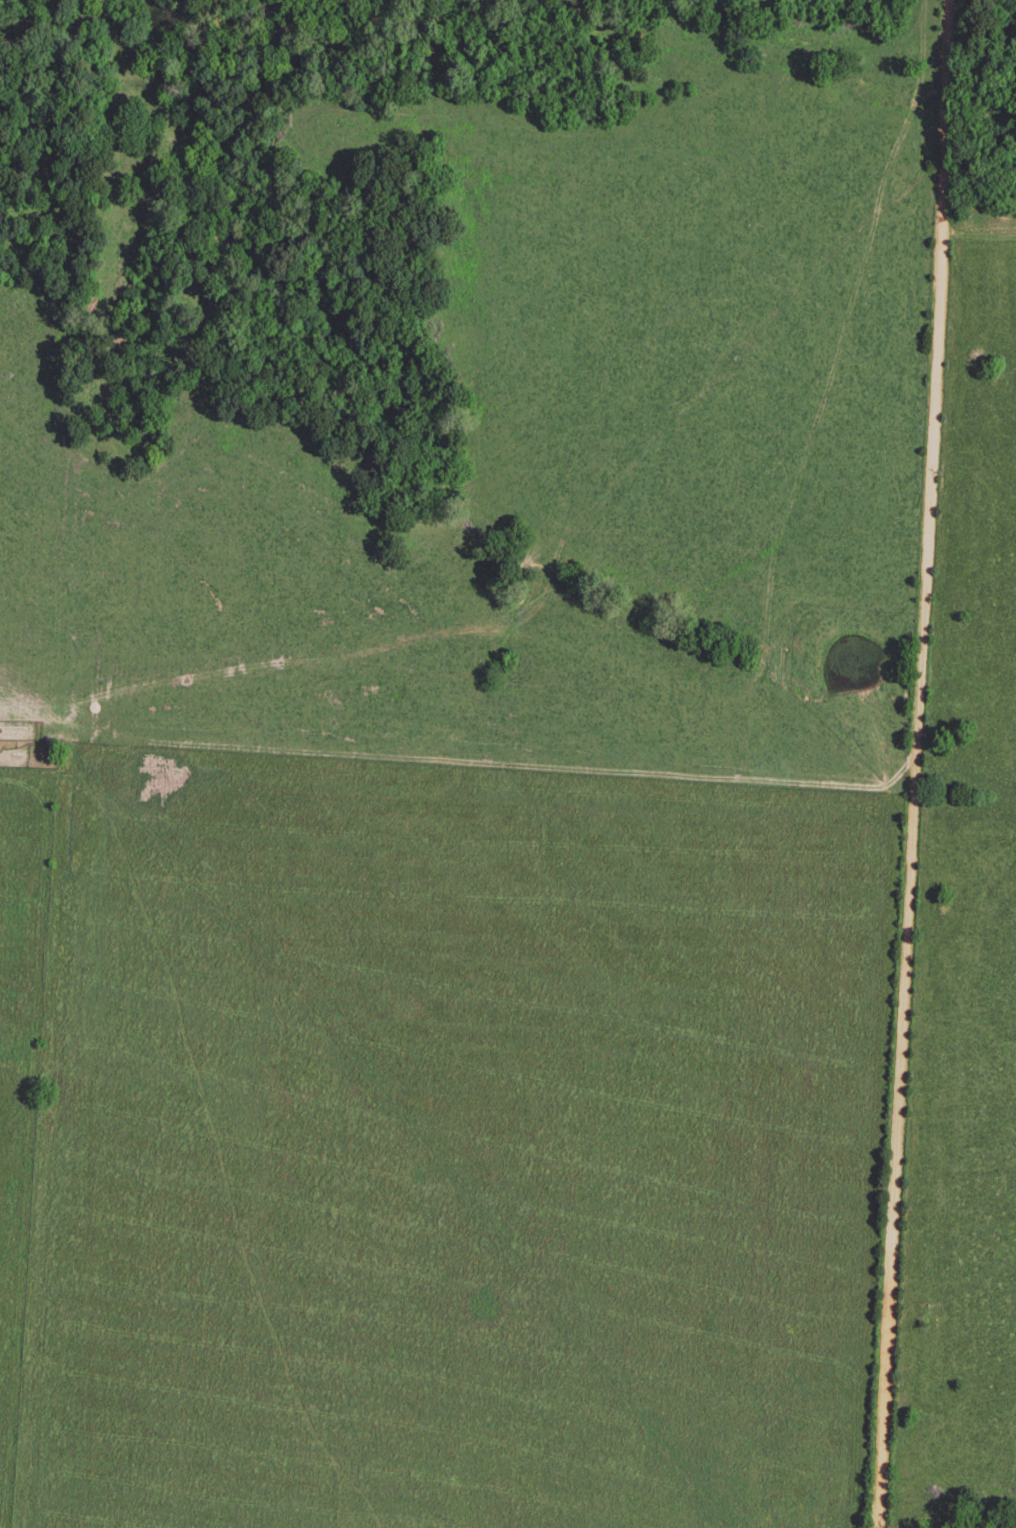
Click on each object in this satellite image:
road: (913, 763)

